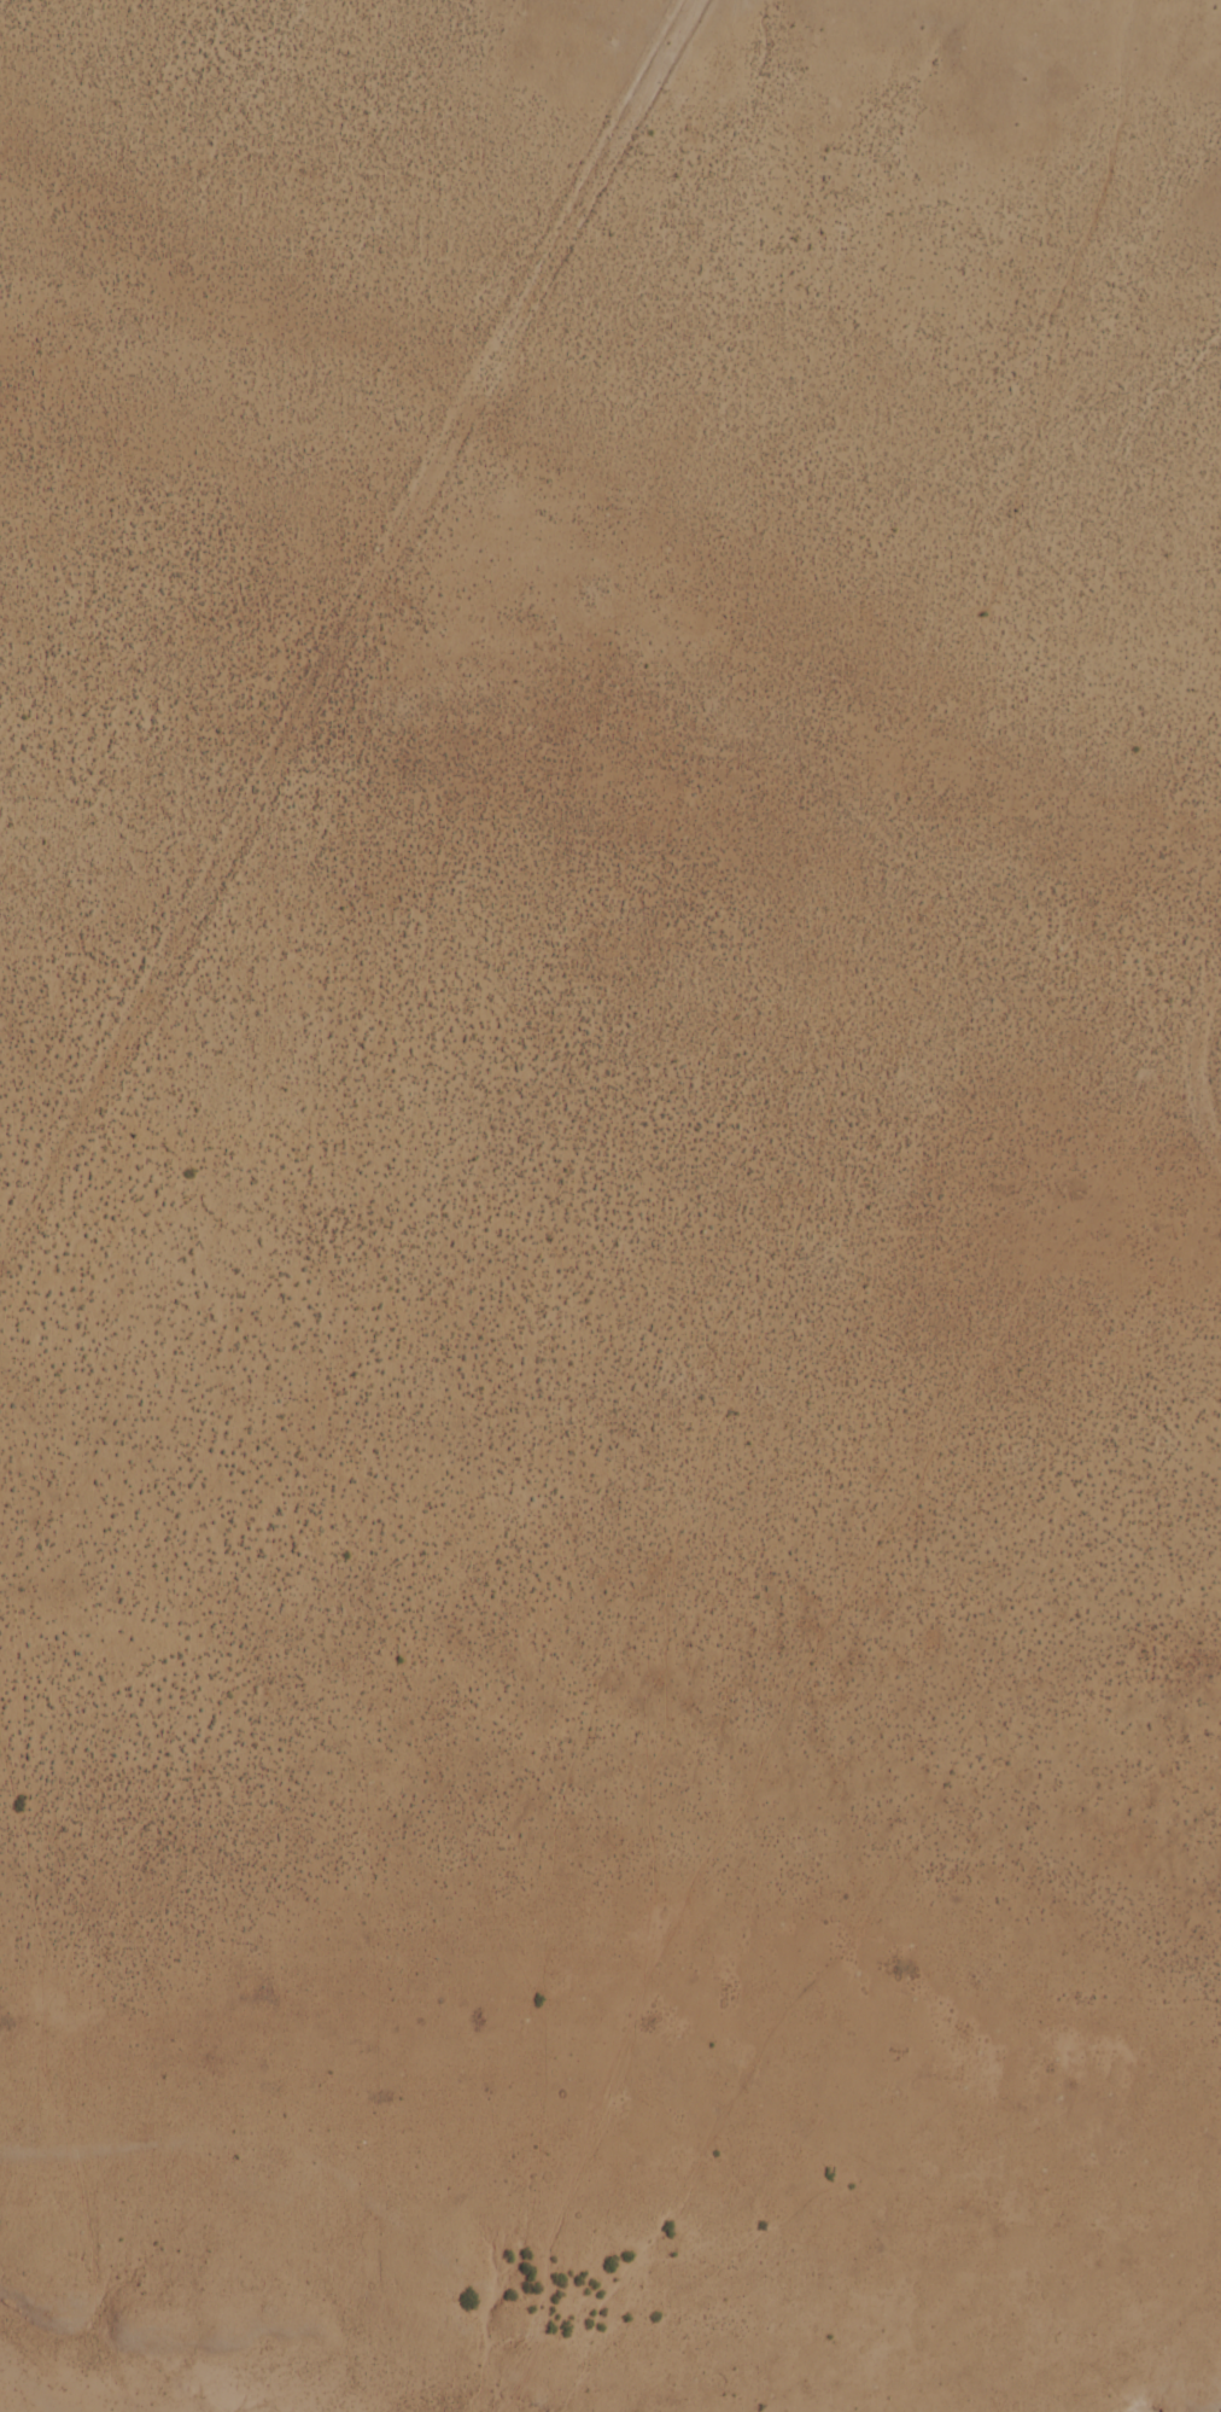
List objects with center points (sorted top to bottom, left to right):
road: (367, 616)
road: (1191, 1099)

